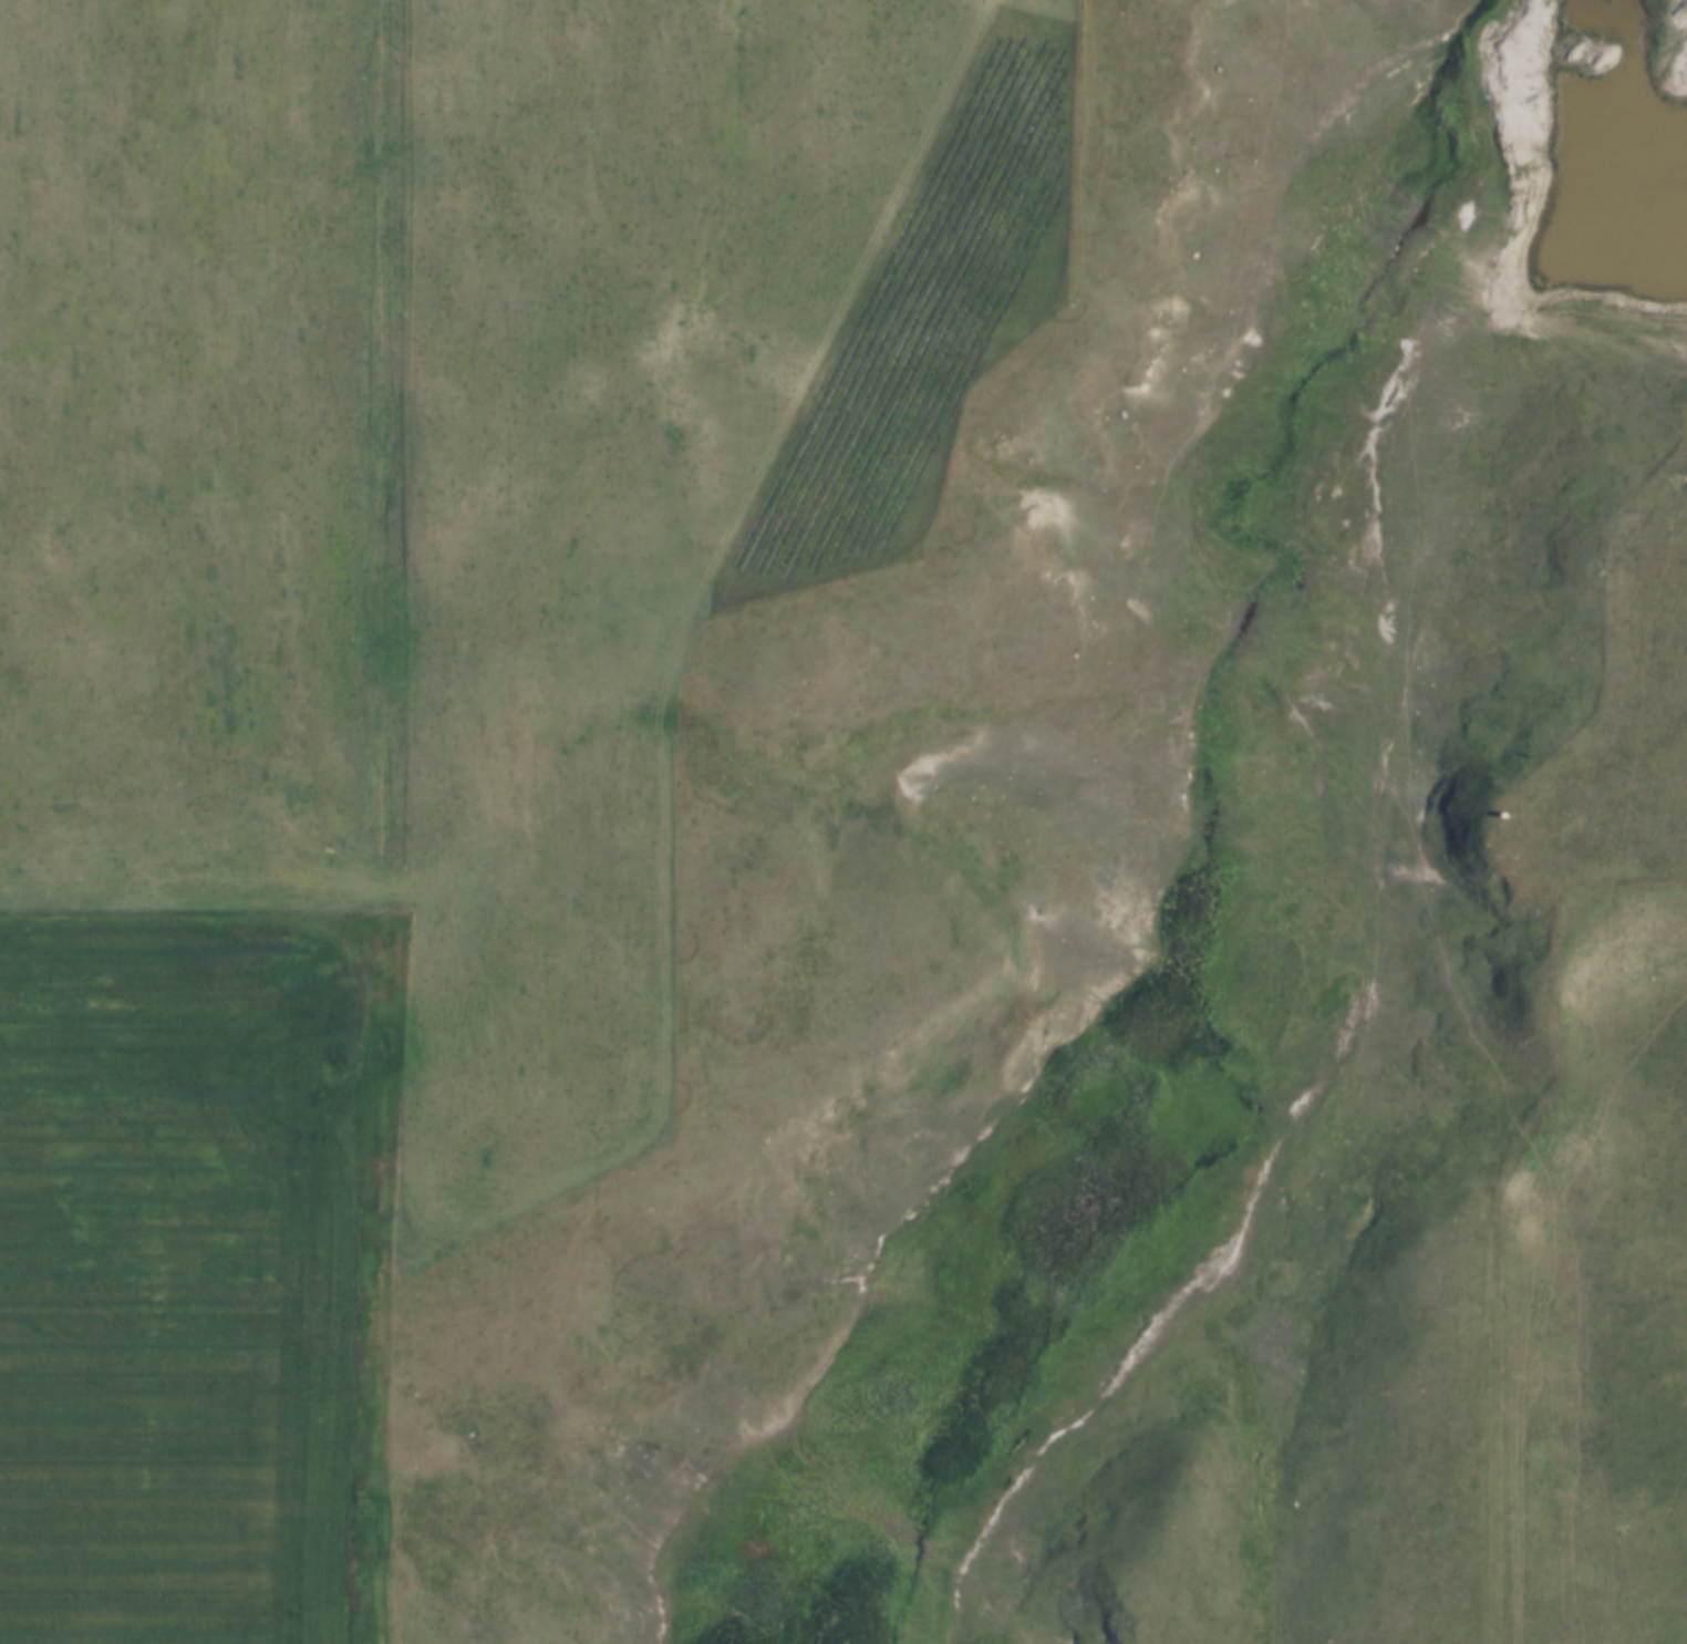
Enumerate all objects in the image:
quarry: (1564, 165)
road: (1583, 728)

